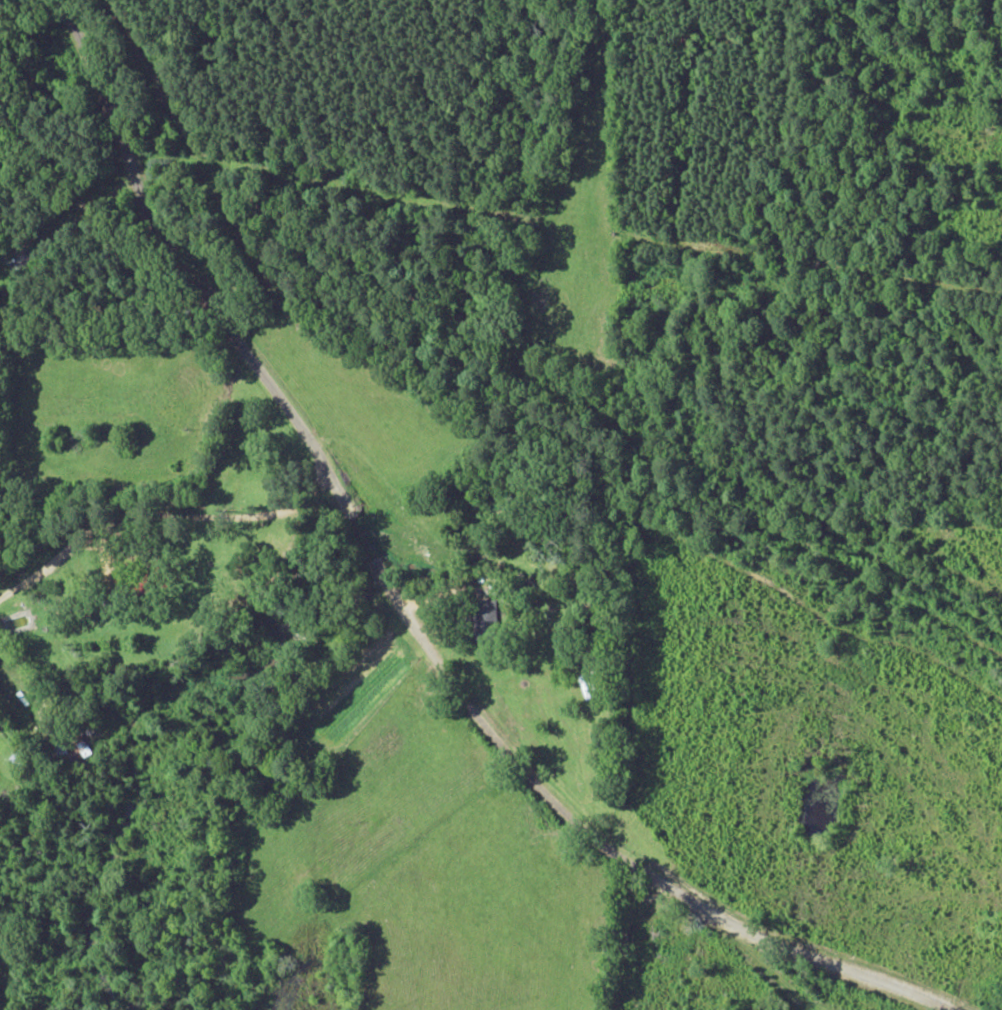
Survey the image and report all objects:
road: (184, 266)
road: (153, 573)
road: (434, 710)
road: (716, 938)

